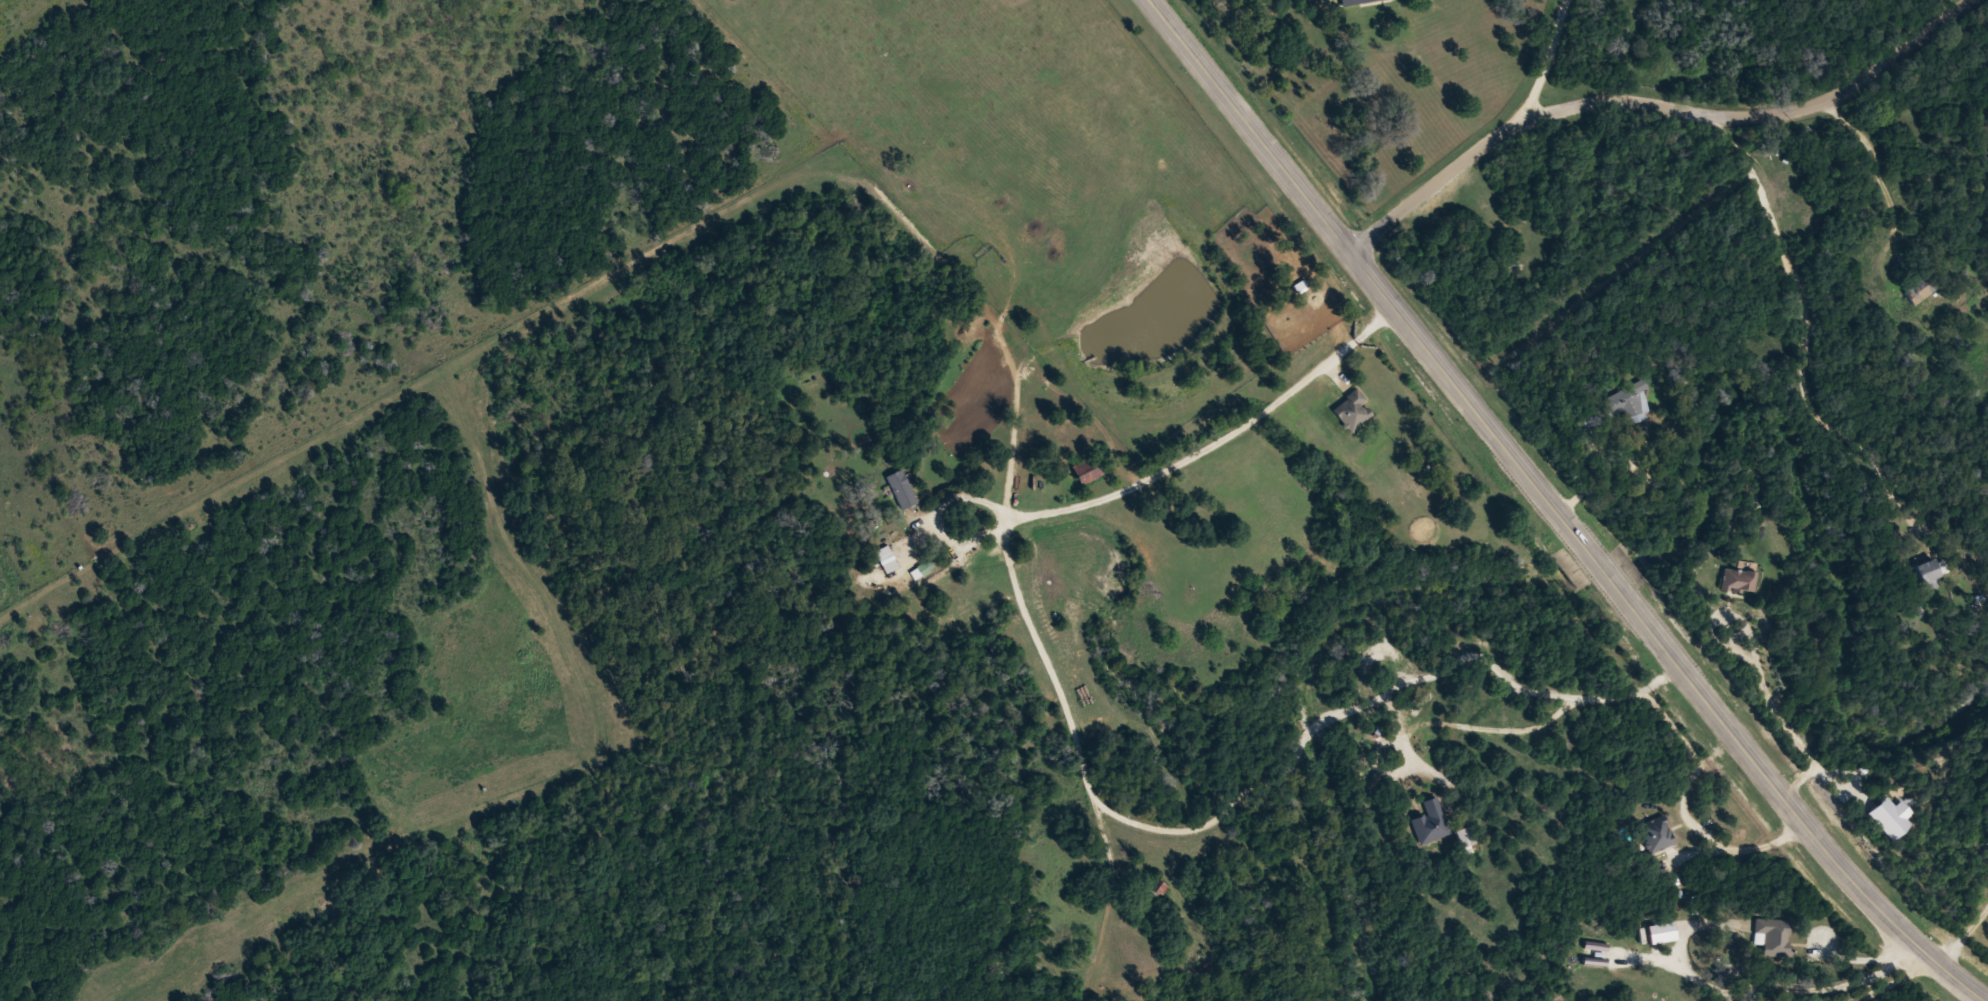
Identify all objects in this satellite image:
building: (1354, 2)
road: (1549, 62)
road: (1654, 108)
building: (1923, 284)
building: (1626, 403)
building: (1351, 410)
building: (900, 488)
road: (1555, 509)
building: (886, 559)
building: (1928, 572)
building: (1739, 580)
building: (1430, 822)
building: (1656, 833)
building: (1158, 890)
building: (1770, 939)
road: (1782, 968)

